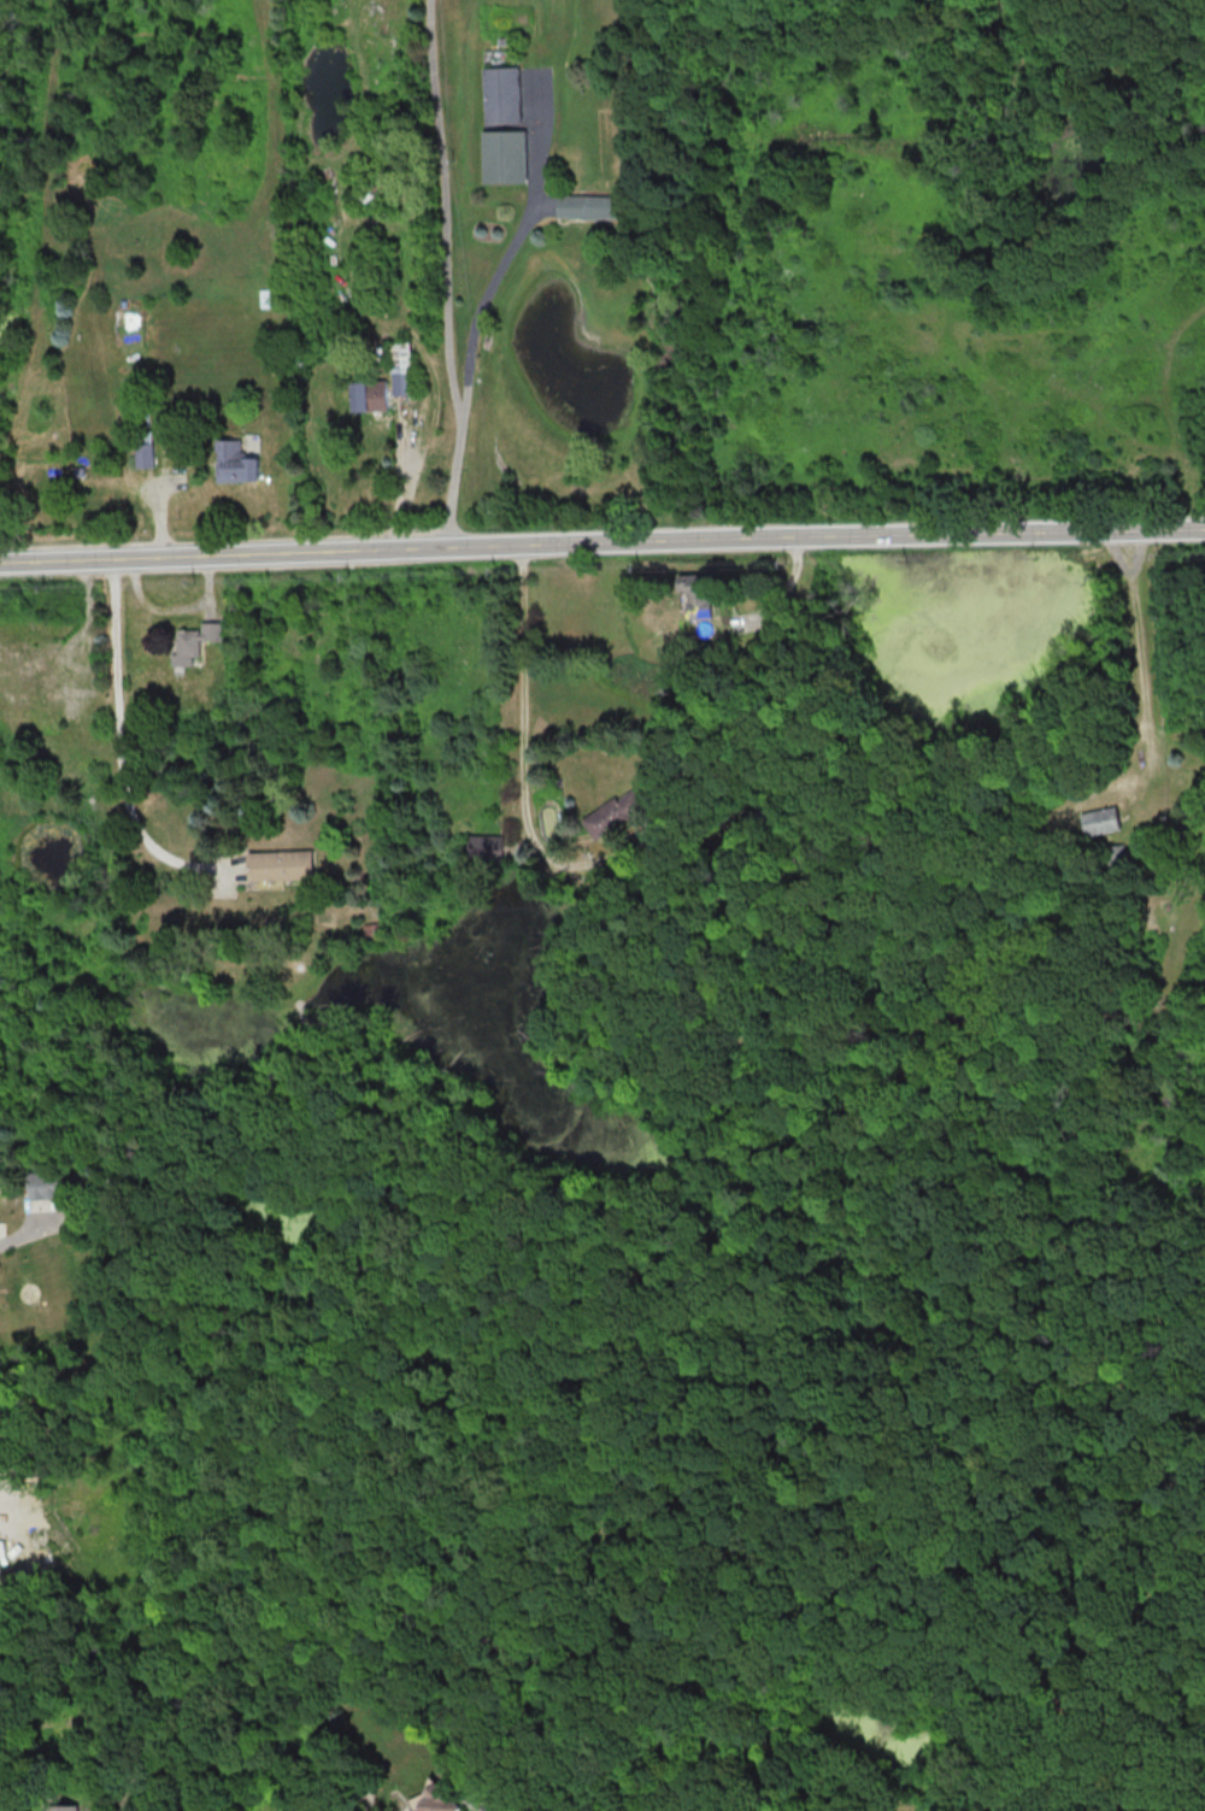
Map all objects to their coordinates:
building: (501, 94)
building: (502, 155)
building: (586, 206)
road: (441, 275)
road: (480, 304)
building: (400, 368)
building: (368, 395)
building: (145, 448)
building: (235, 461)
road: (601, 545)
building: (194, 641)
road: (118, 722)
building: (611, 813)
building: (1100, 819)
building: (484, 845)
building: (282, 864)
building: (43, 1184)
building: (64, 1807)

